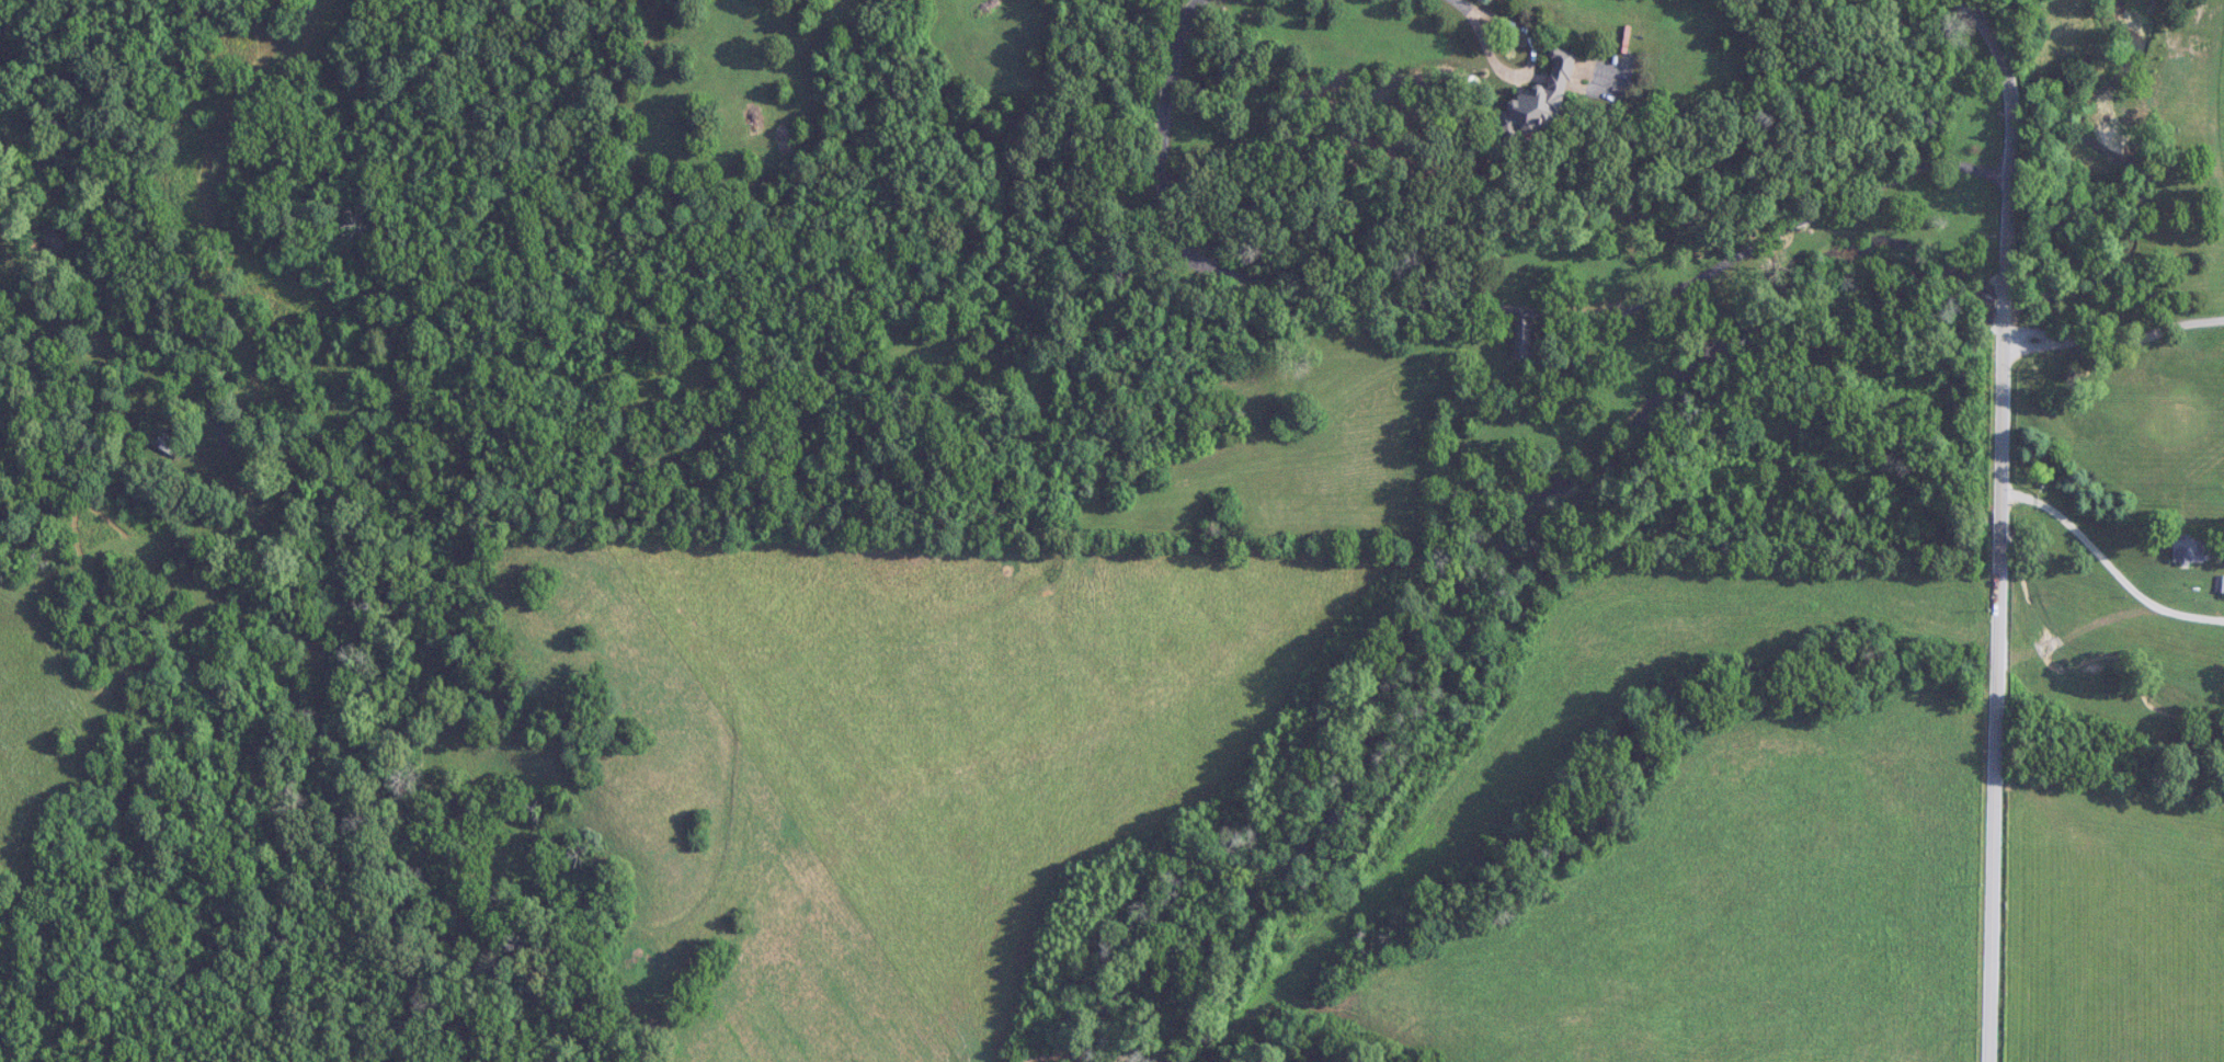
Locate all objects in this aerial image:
road: (1463, 5)
road: (1527, 66)
building: (1541, 102)
road: (1476, 310)
building: (1524, 339)
road: (2115, 341)
building: (167, 442)
road: (1999, 521)
building: (2190, 549)
road: (2108, 564)

